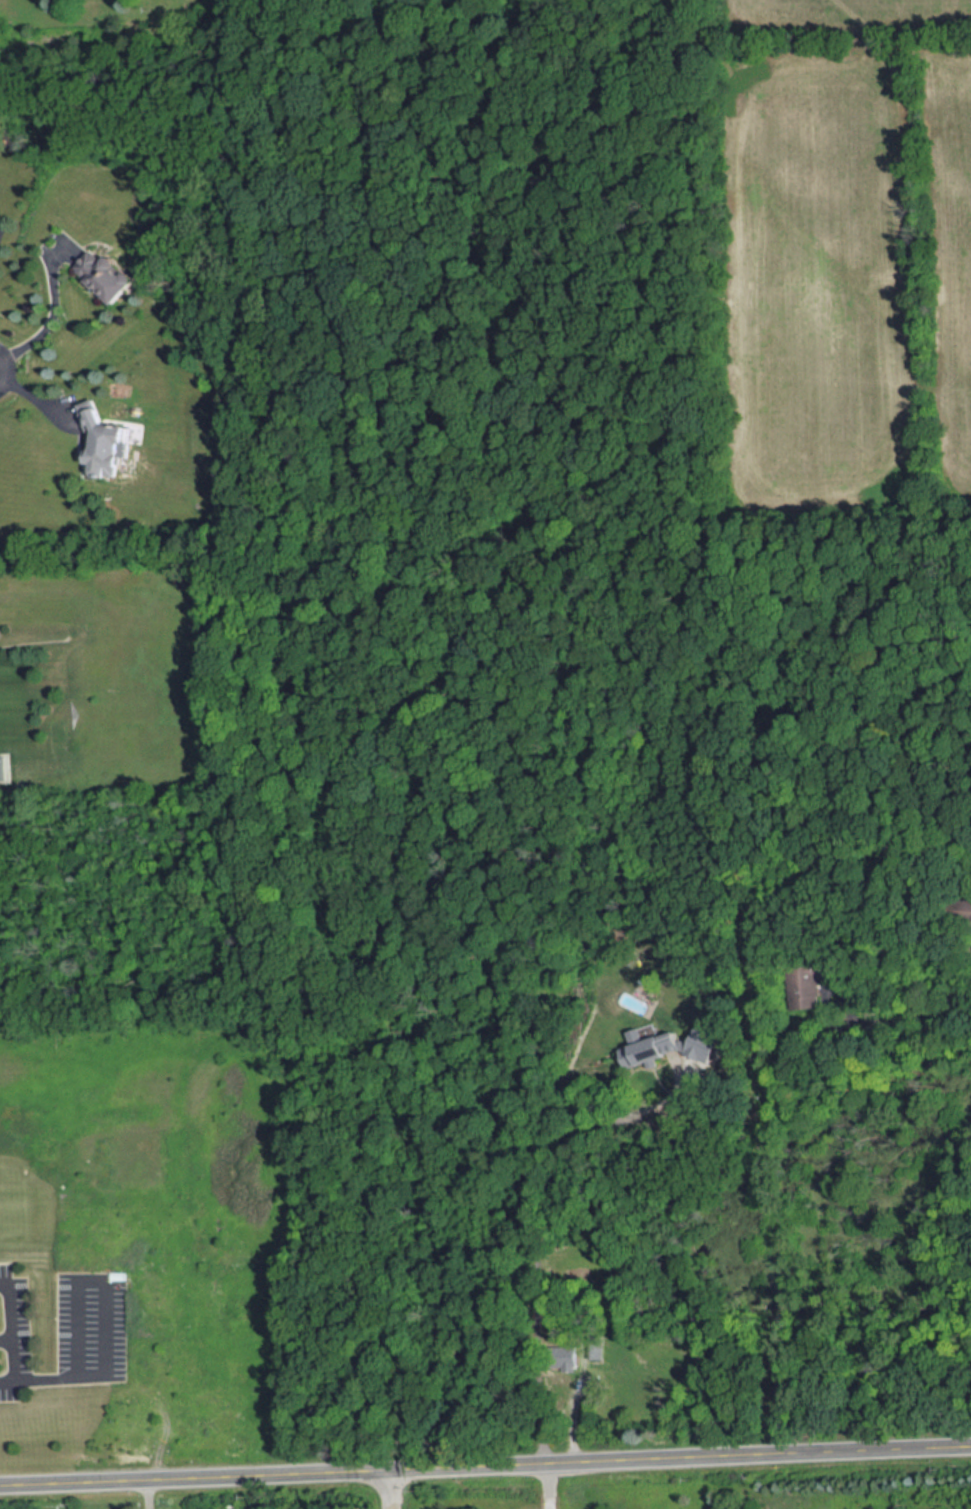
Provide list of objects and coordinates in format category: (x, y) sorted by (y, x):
crop: (771, 2)
crop: (949, 260)
crop: (812, 267)
building: (104, 273)
road: (48, 322)
road: (36, 400)
building: (99, 441)
building: (960, 908)
building: (808, 981)
road: (832, 986)
road: (883, 1020)
building: (671, 1045)
building: (723, 1046)
road: (535, 1210)
road: (77, 1273)
road: (11, 1323)
parking lot: (69, 1326)
building: (596, 1347)
building: (561, 1356)
road: (6, 1377)
building: (647, 1389)
road: (570, 1405)
road: (679, 1455)
road: (269, 1473)
road: (75, 1481)
road: (547, 1484)
road: (389, 1488)

